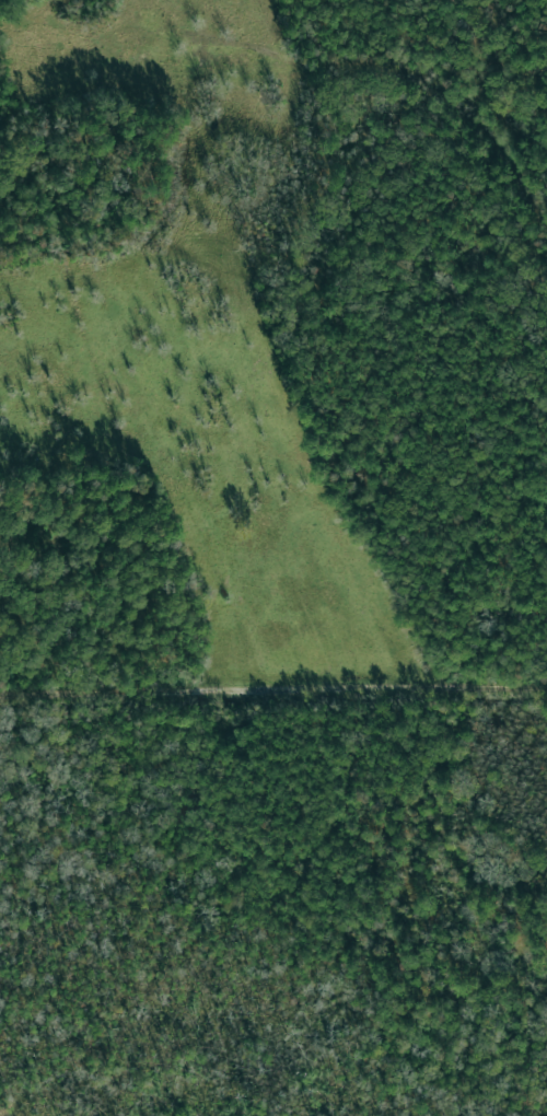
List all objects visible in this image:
road: (273, 686)

